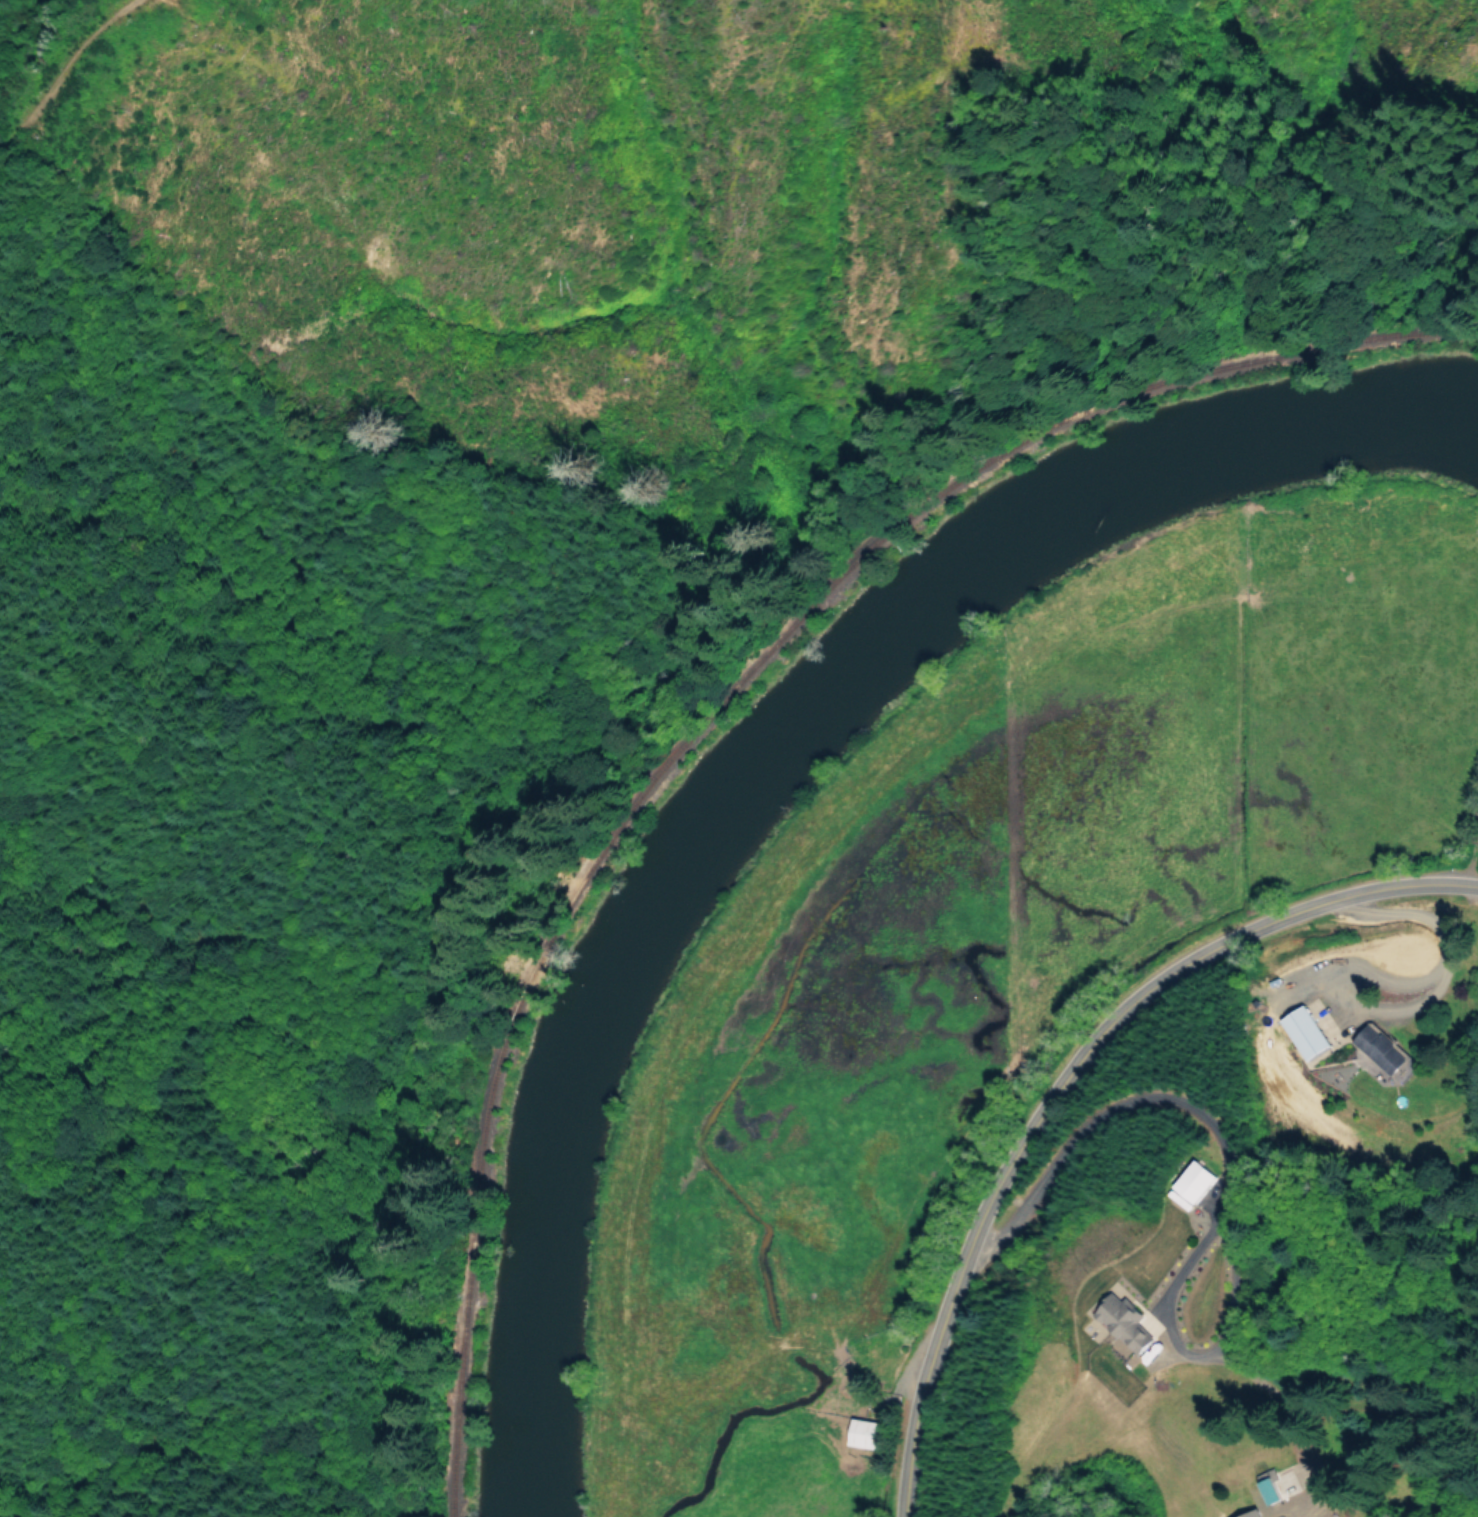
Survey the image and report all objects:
road: (11, 14)
railway: (681, 687)
river: (776, 767)
building: (1304, 1031)
building: (1378, 1048)
road: (1067, 1079)
building: (1195, 1180)
road: (1226, 1186)
building: (1125, 1321)
building: (1269, 1489)
building: (1251, 1513)

